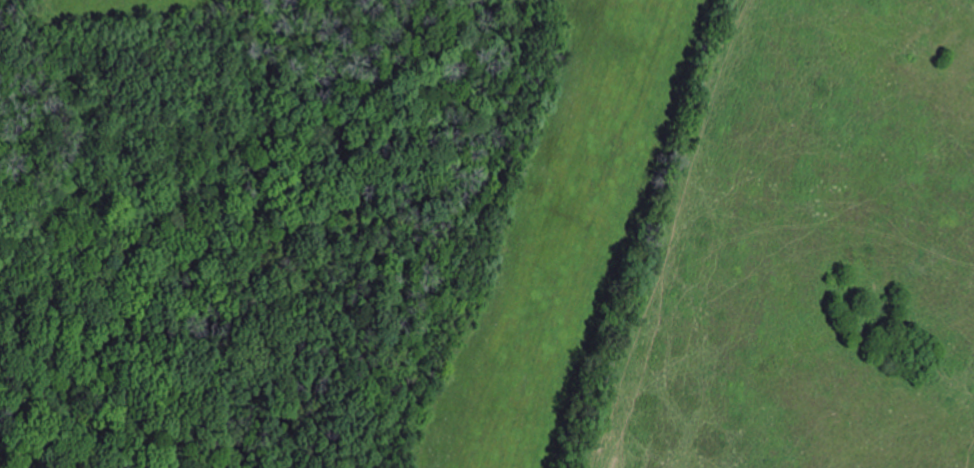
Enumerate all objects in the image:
road: (13, 459)

